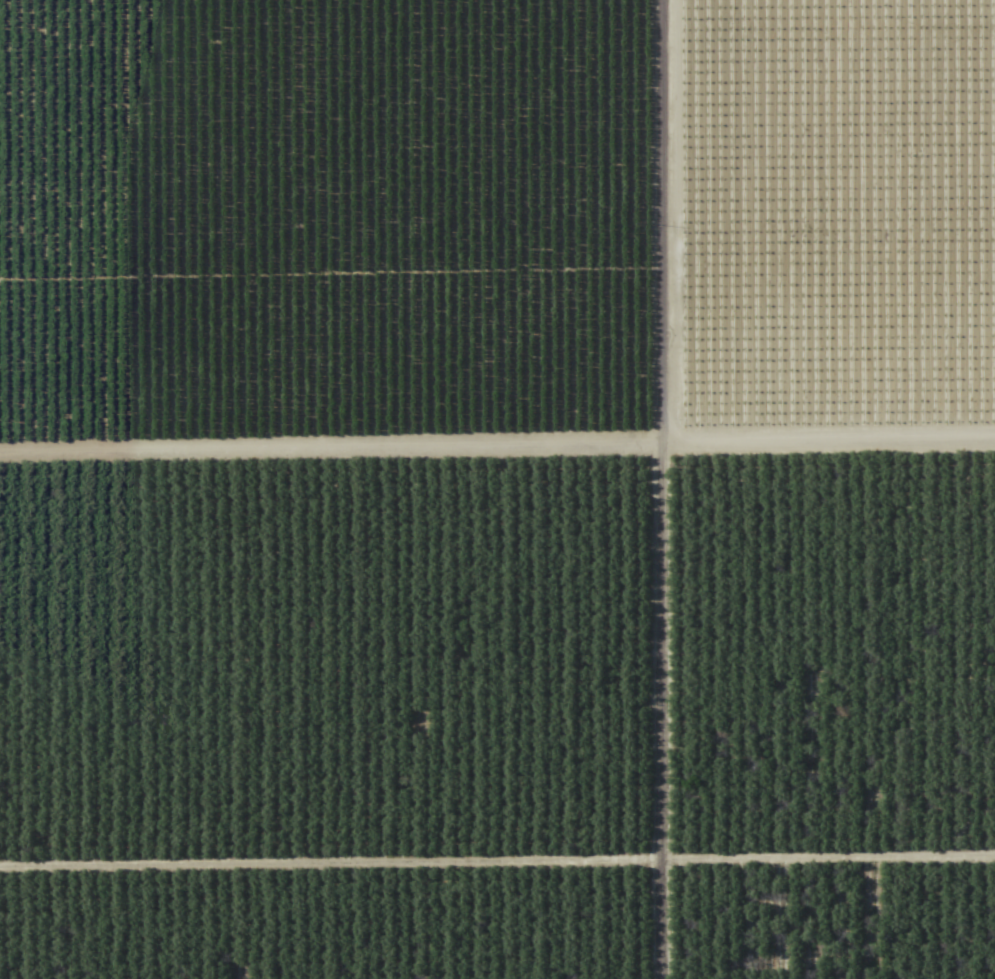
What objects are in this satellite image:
road: (648, 489)

